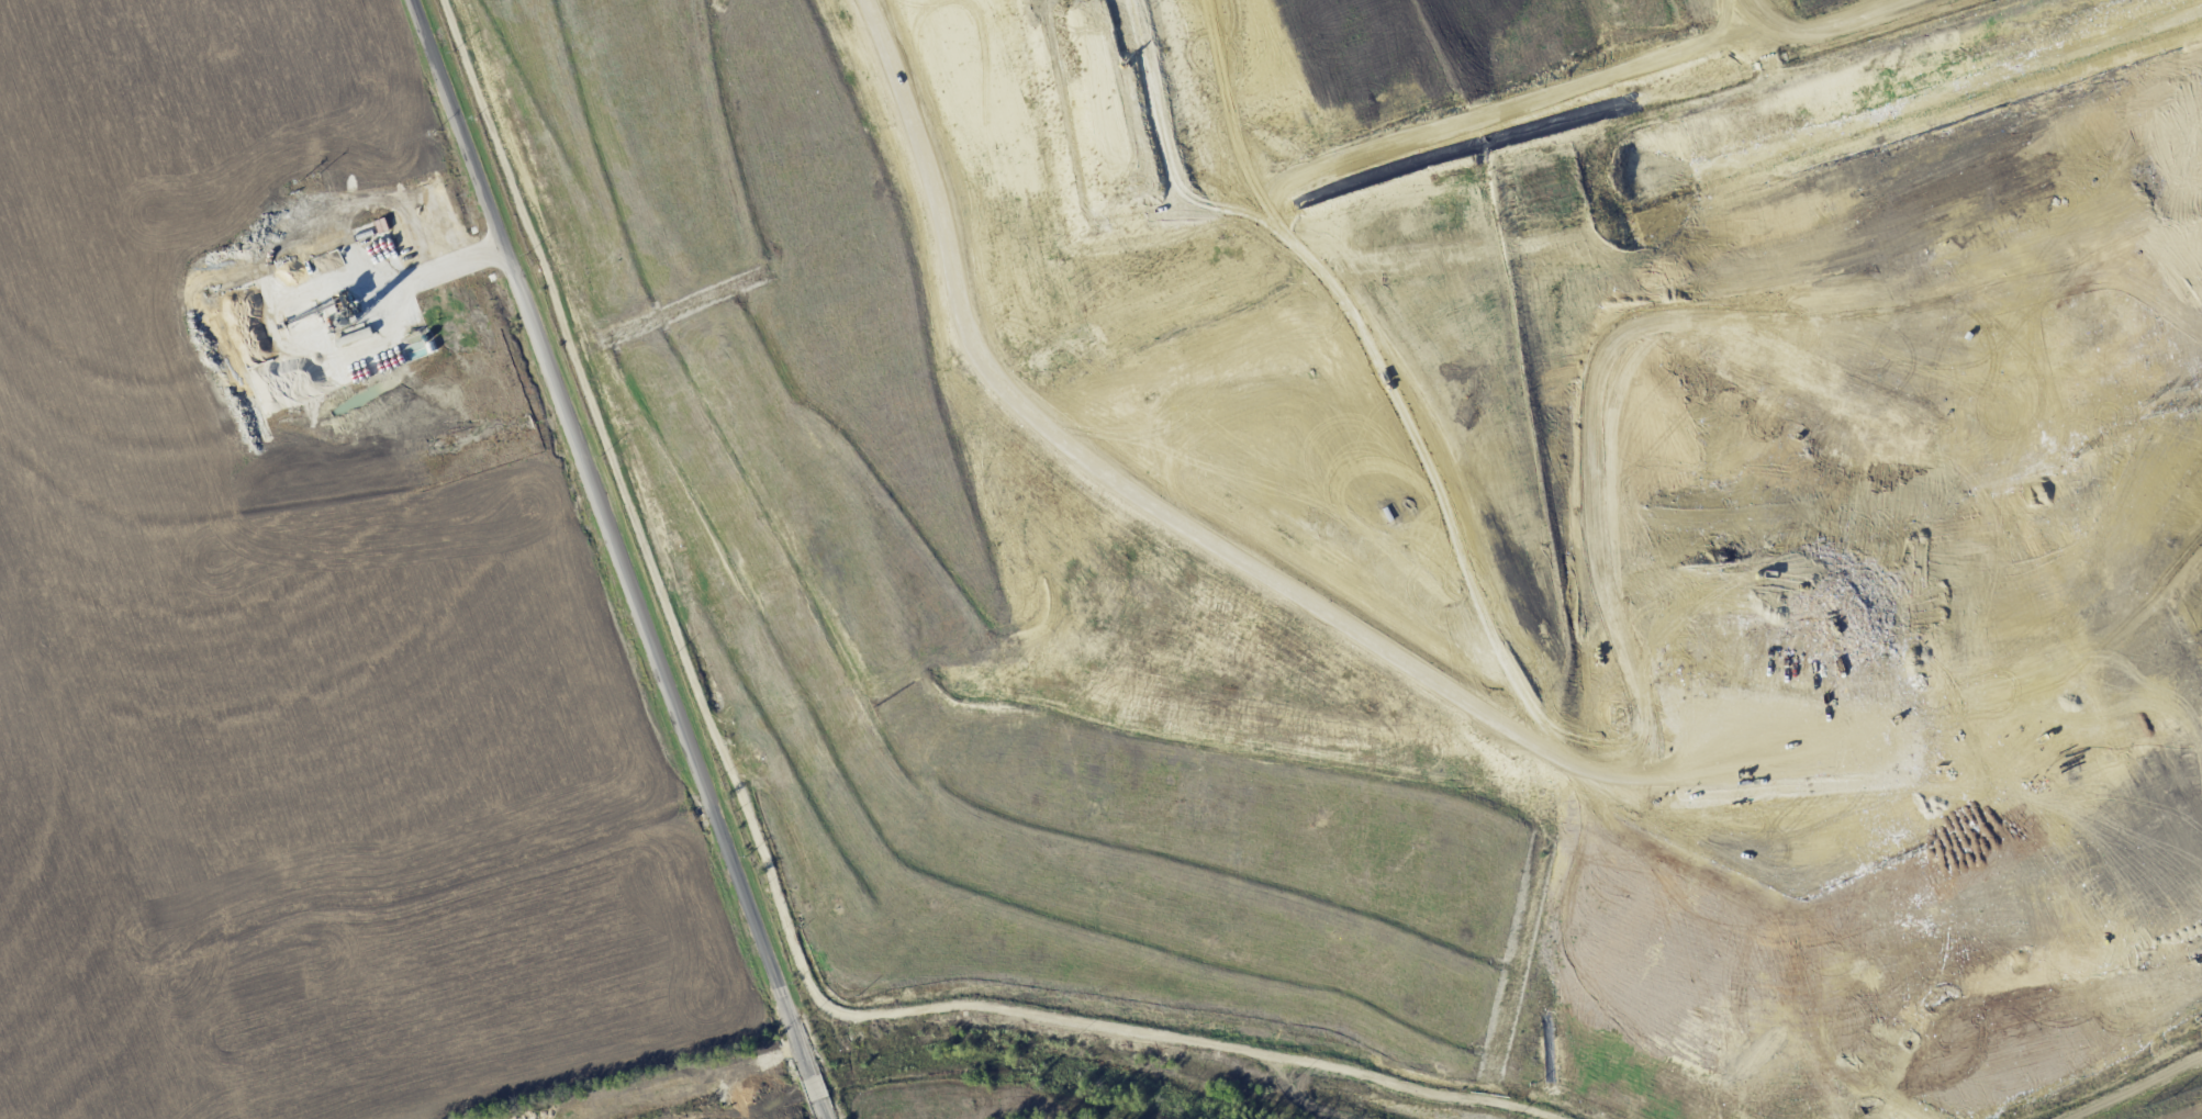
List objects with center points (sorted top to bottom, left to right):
road: (1814, 27)
road: (1025, 401)
landfill: (1424, 519)
road: (608, 537)
road: (761, 855)
road: (813, 1086)
road: (2133, 1086)
road: (821, 1109)

